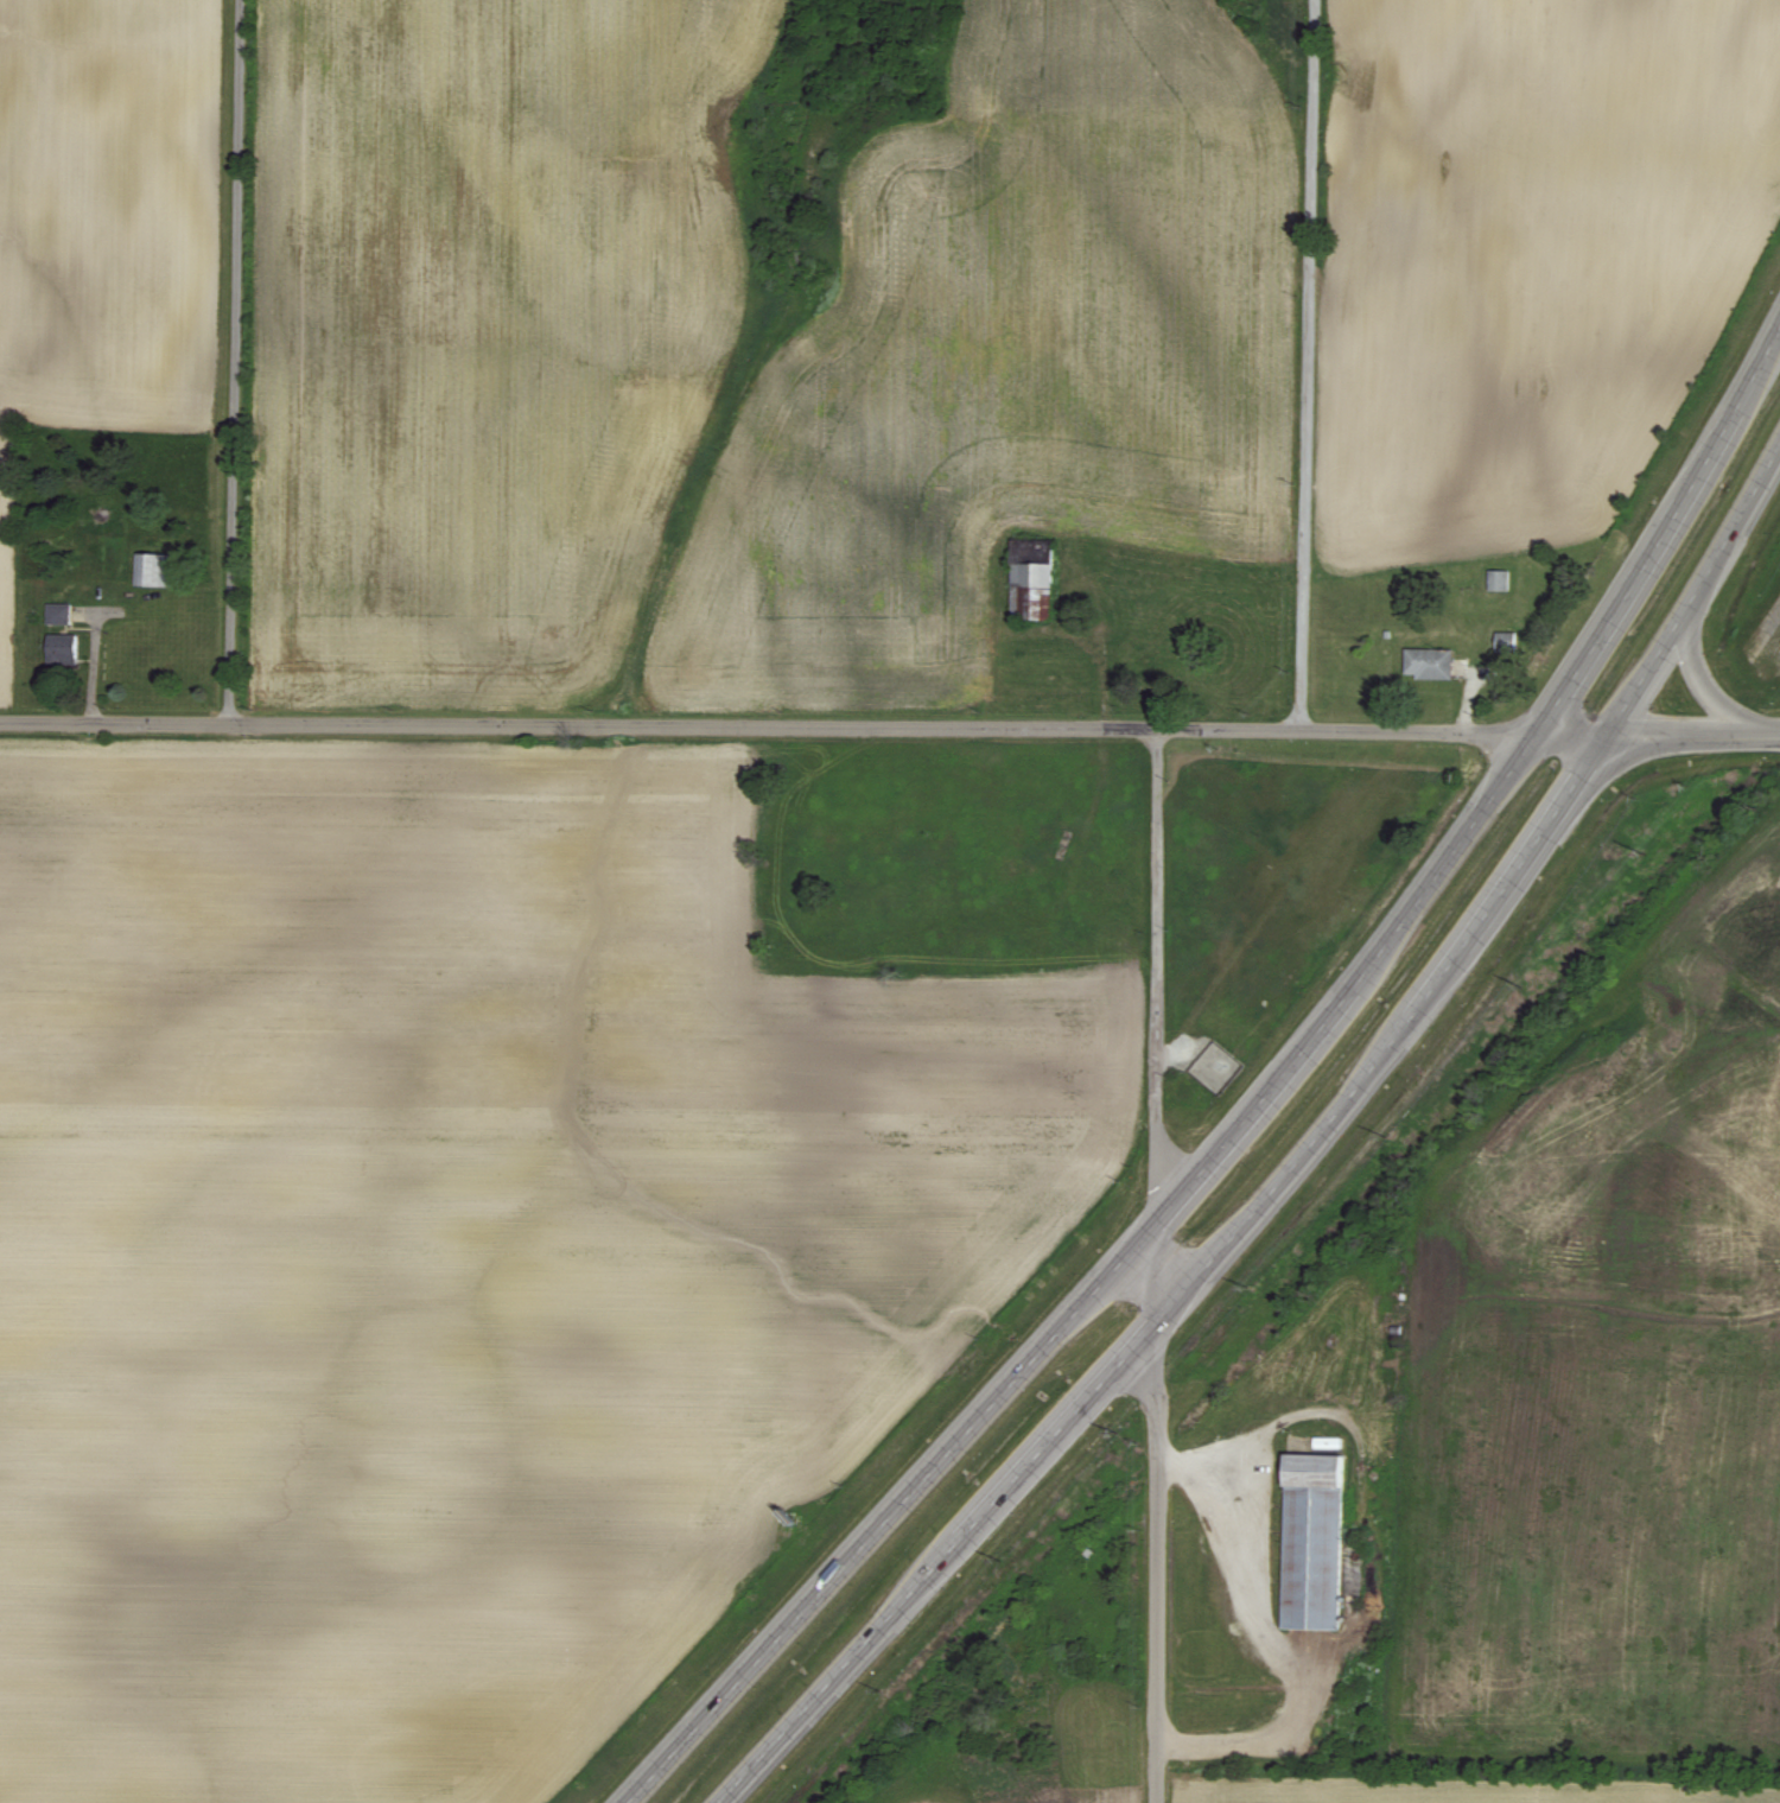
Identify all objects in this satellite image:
road: (235, 363)
road: (1309, 364)
building: (155, 572)
building: (1500, 582)
building: (1034, 593)
building: (61, 615)
road: (1763, 631)
building: (64, 650)
building: (1431, 664)
road: (1704, 679)
road: (890, 729)
road: (1257, 1105)
road: (1297, 1160)
road: (1155, 1265)
building: (1327, 1443)
building: (1314, 1541)
road: (1260, 1637)

